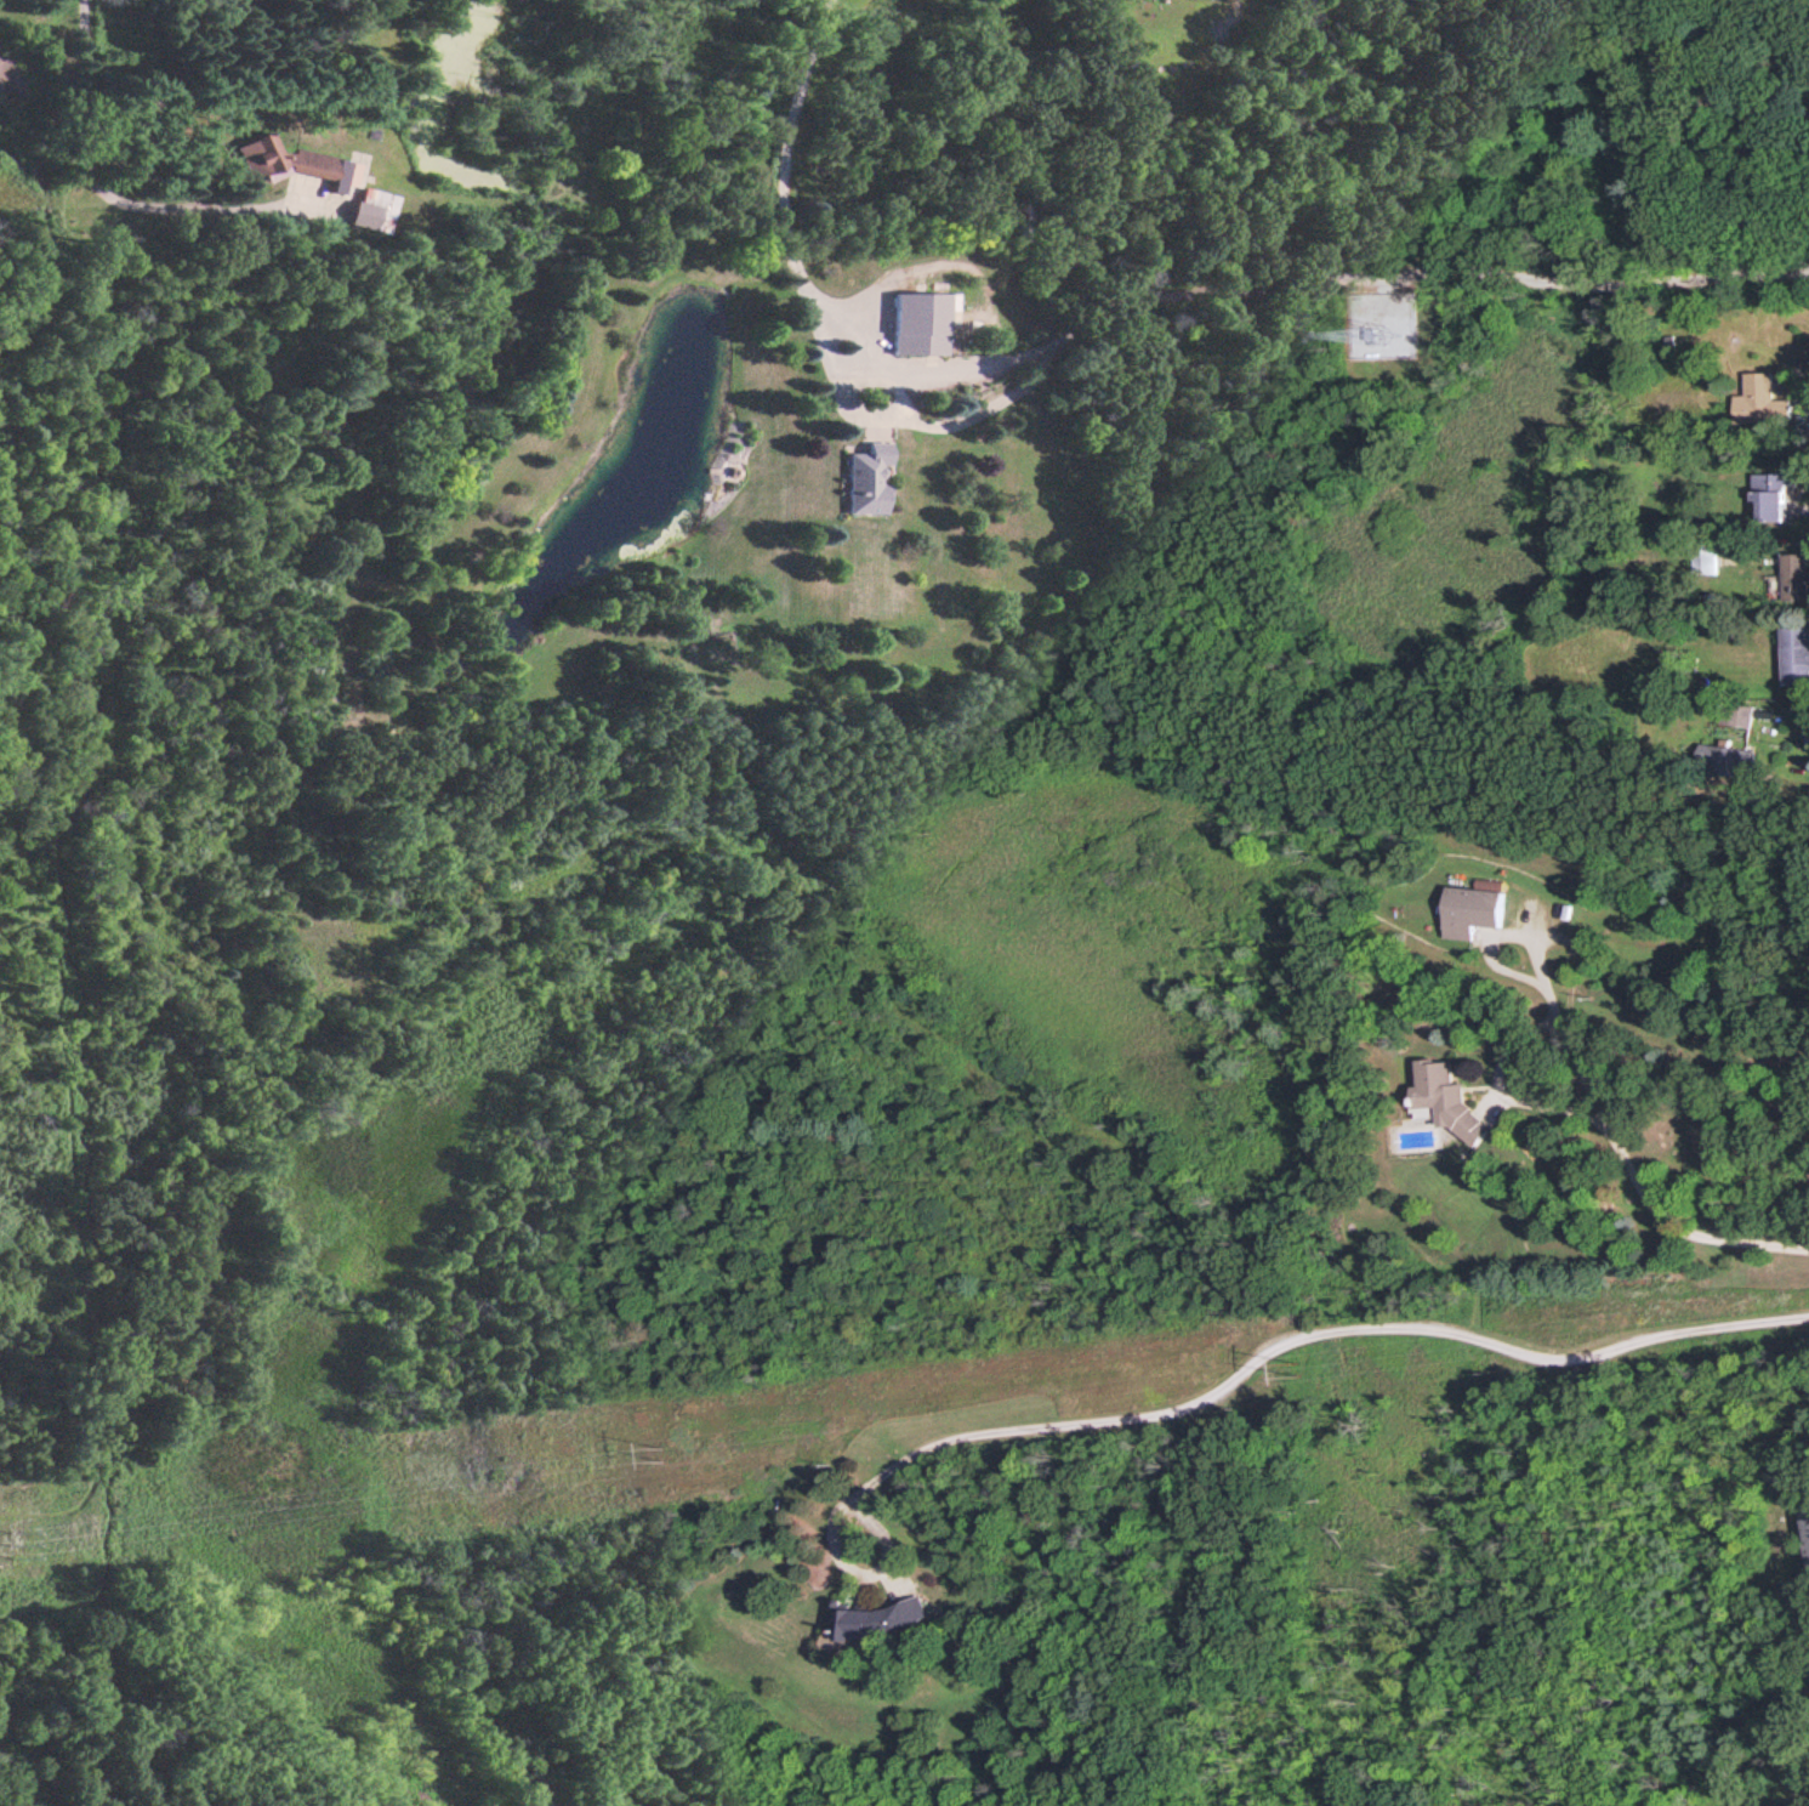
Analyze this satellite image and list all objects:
building: (285, 161)
road: (779, 164)
road: (99, 191)
building: (369, 209)
building: (918, 322)
building: (1760, 402)
building: (863, 478)
building: (1773, 492)
building: (1707, 557)
building: (1797, 574)
building: (1797, 653)
building: (1737, 712)
building: (1729, 757)
building: (1473, 907)
road: (1501, 1089)
building: (1445, 1098)
road: (1623, 1147)
road: (1296, 1336)
power tower: (1297, 1369)
power tower: (665, 1452)
power tower: (18, 1544)
building: (878, 1617)

